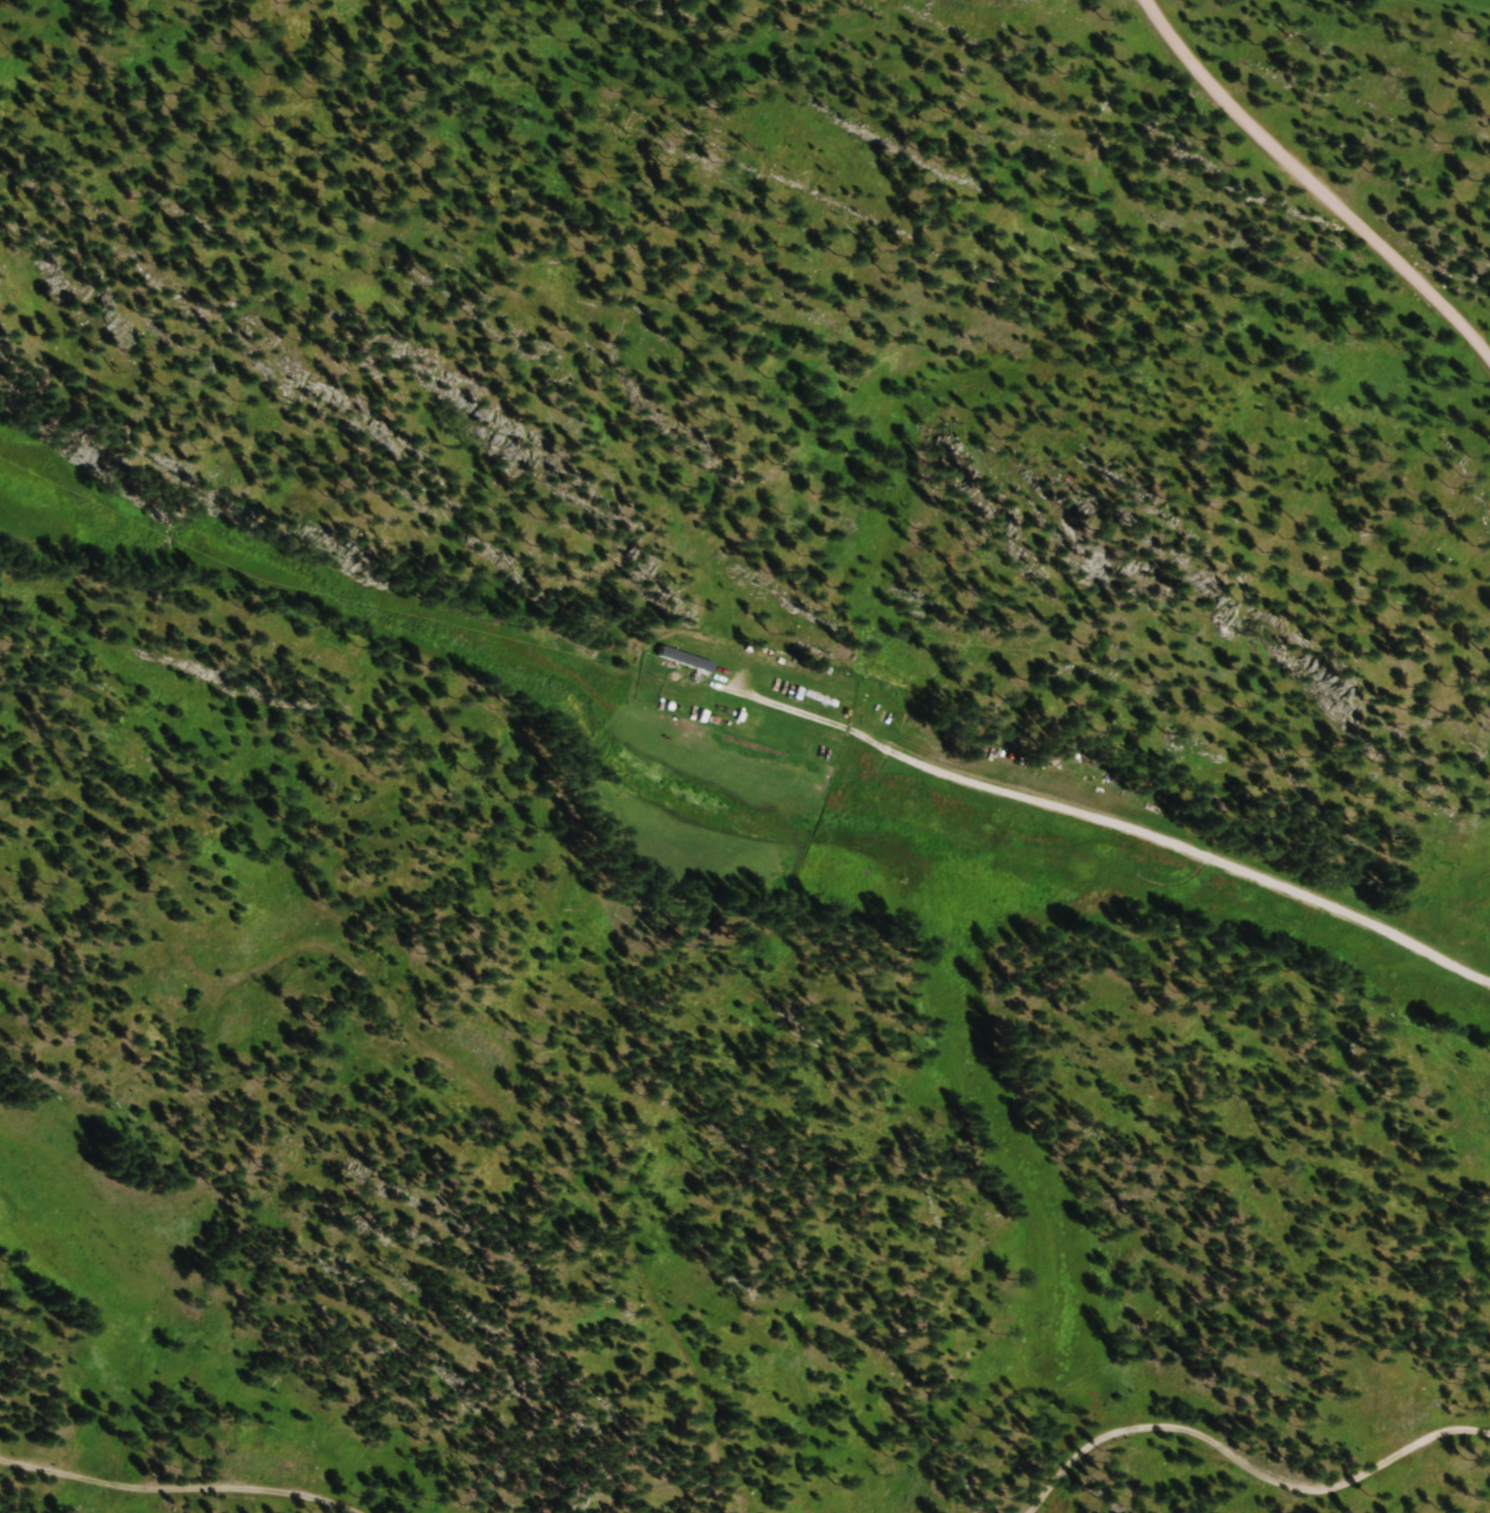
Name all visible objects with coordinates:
road: (1311, 185)
building: (685, 662)
road: (1243, 1463)
road: (178, 1486)

